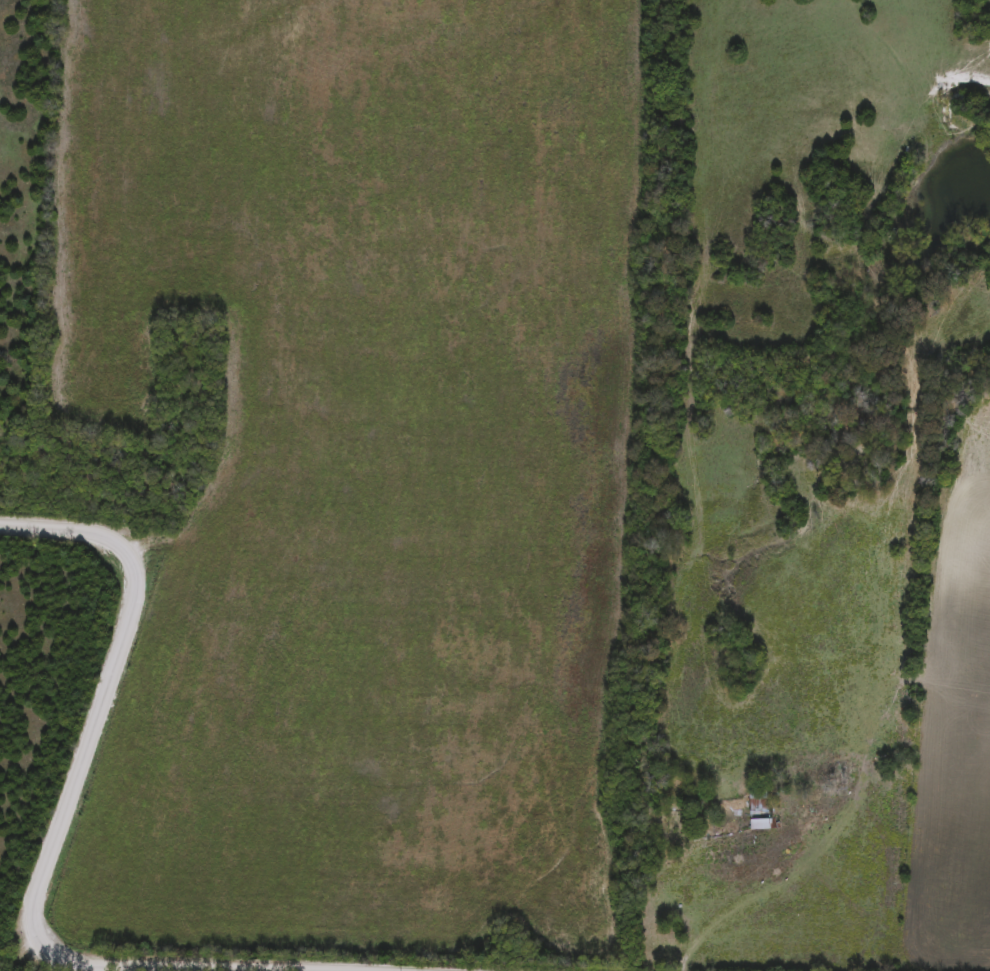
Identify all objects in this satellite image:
building: (757, 810)
road: (56, 831)

